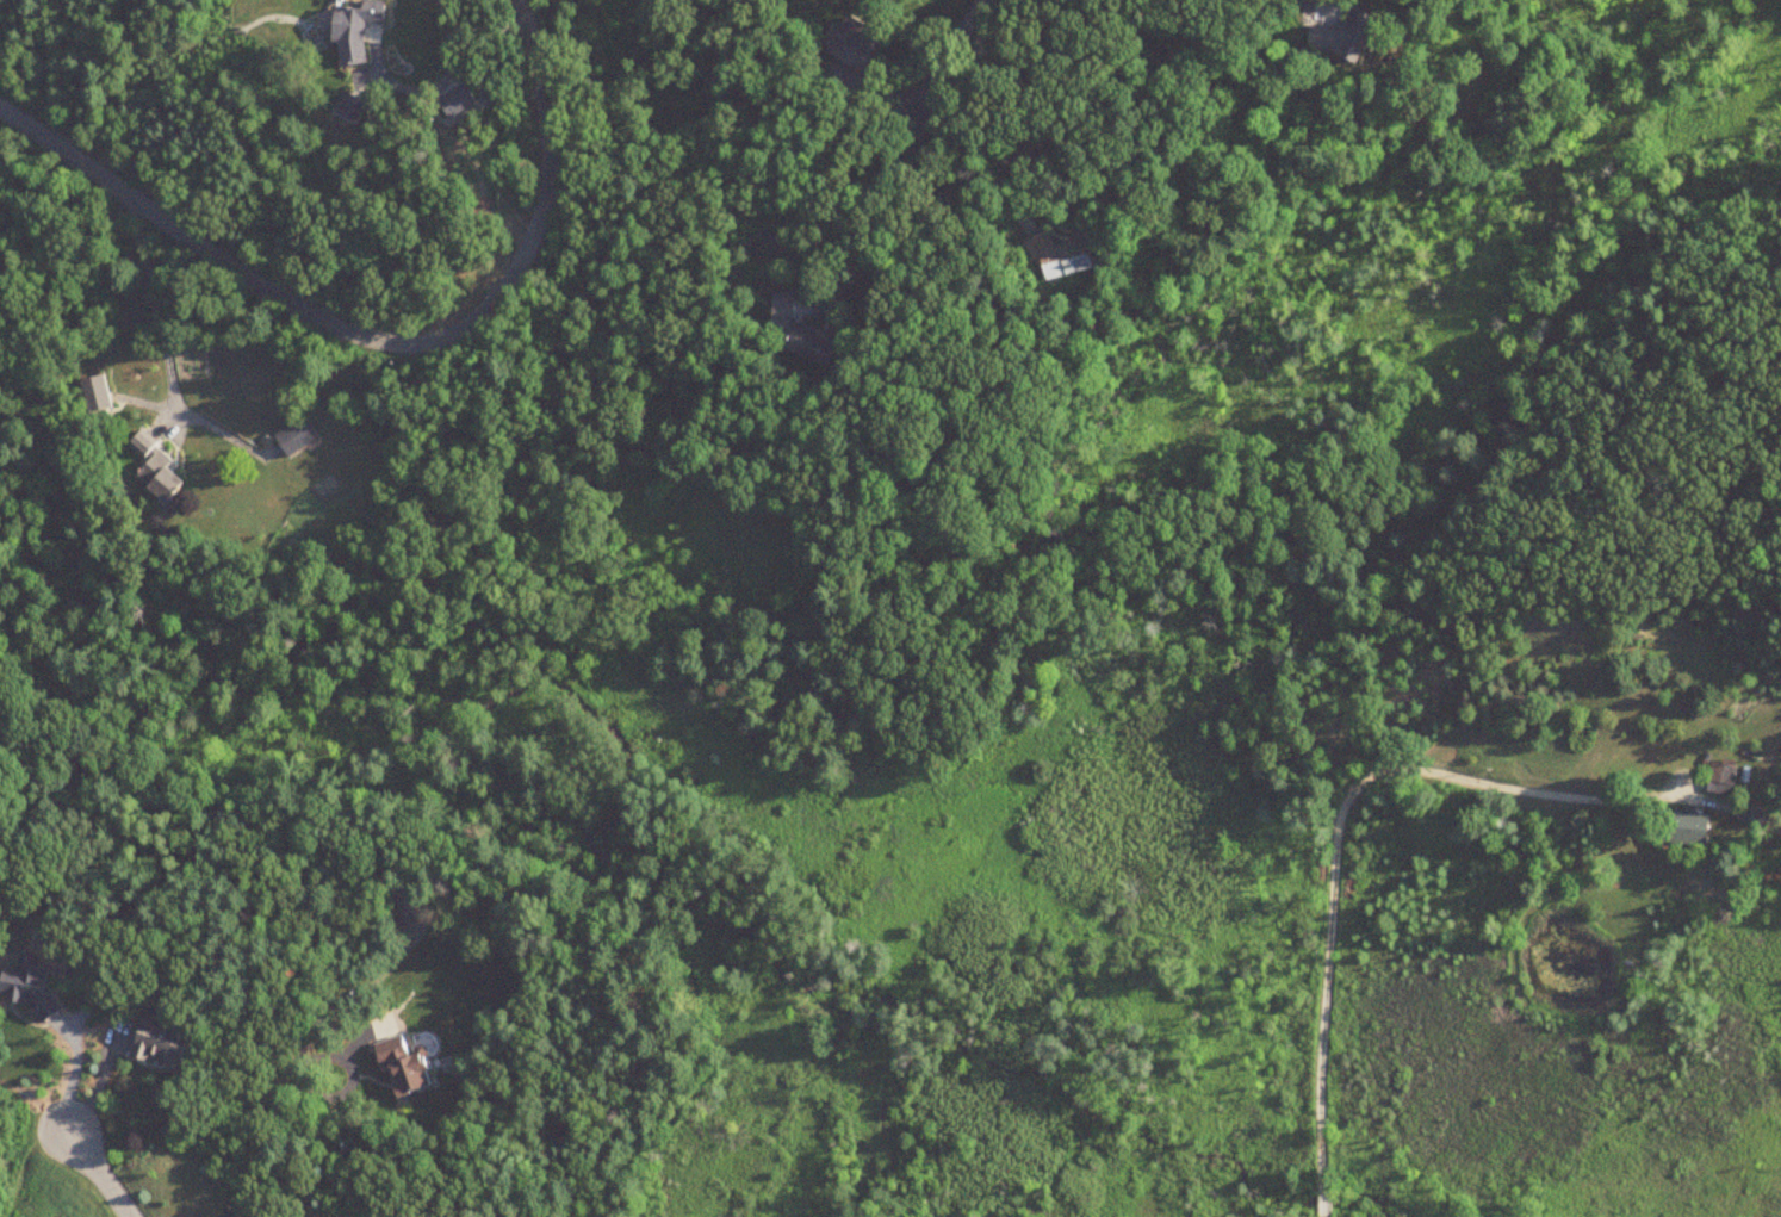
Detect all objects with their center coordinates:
building: (352, 30)
building: (1339, 37)
building: (849, 42)
road: (956, 56)
road: (438, 87)
building: (1035, 143)
road: (981, 154)
road: (910, 219)
building: (1060, 255)
road: (155, 312)
building: (796, 334)
road: (374, 353)
building: (94, 395)
building: (293, 437)
building: (153, 470)
building: (1720, 777)
road: (1335, 828)
building: (1683, 830)
building: (407, 905)
building: (155, 1043)
road: (336, 1057)
building: (399, 1068)
road: (99, 1173)
road: (244, 1185)

